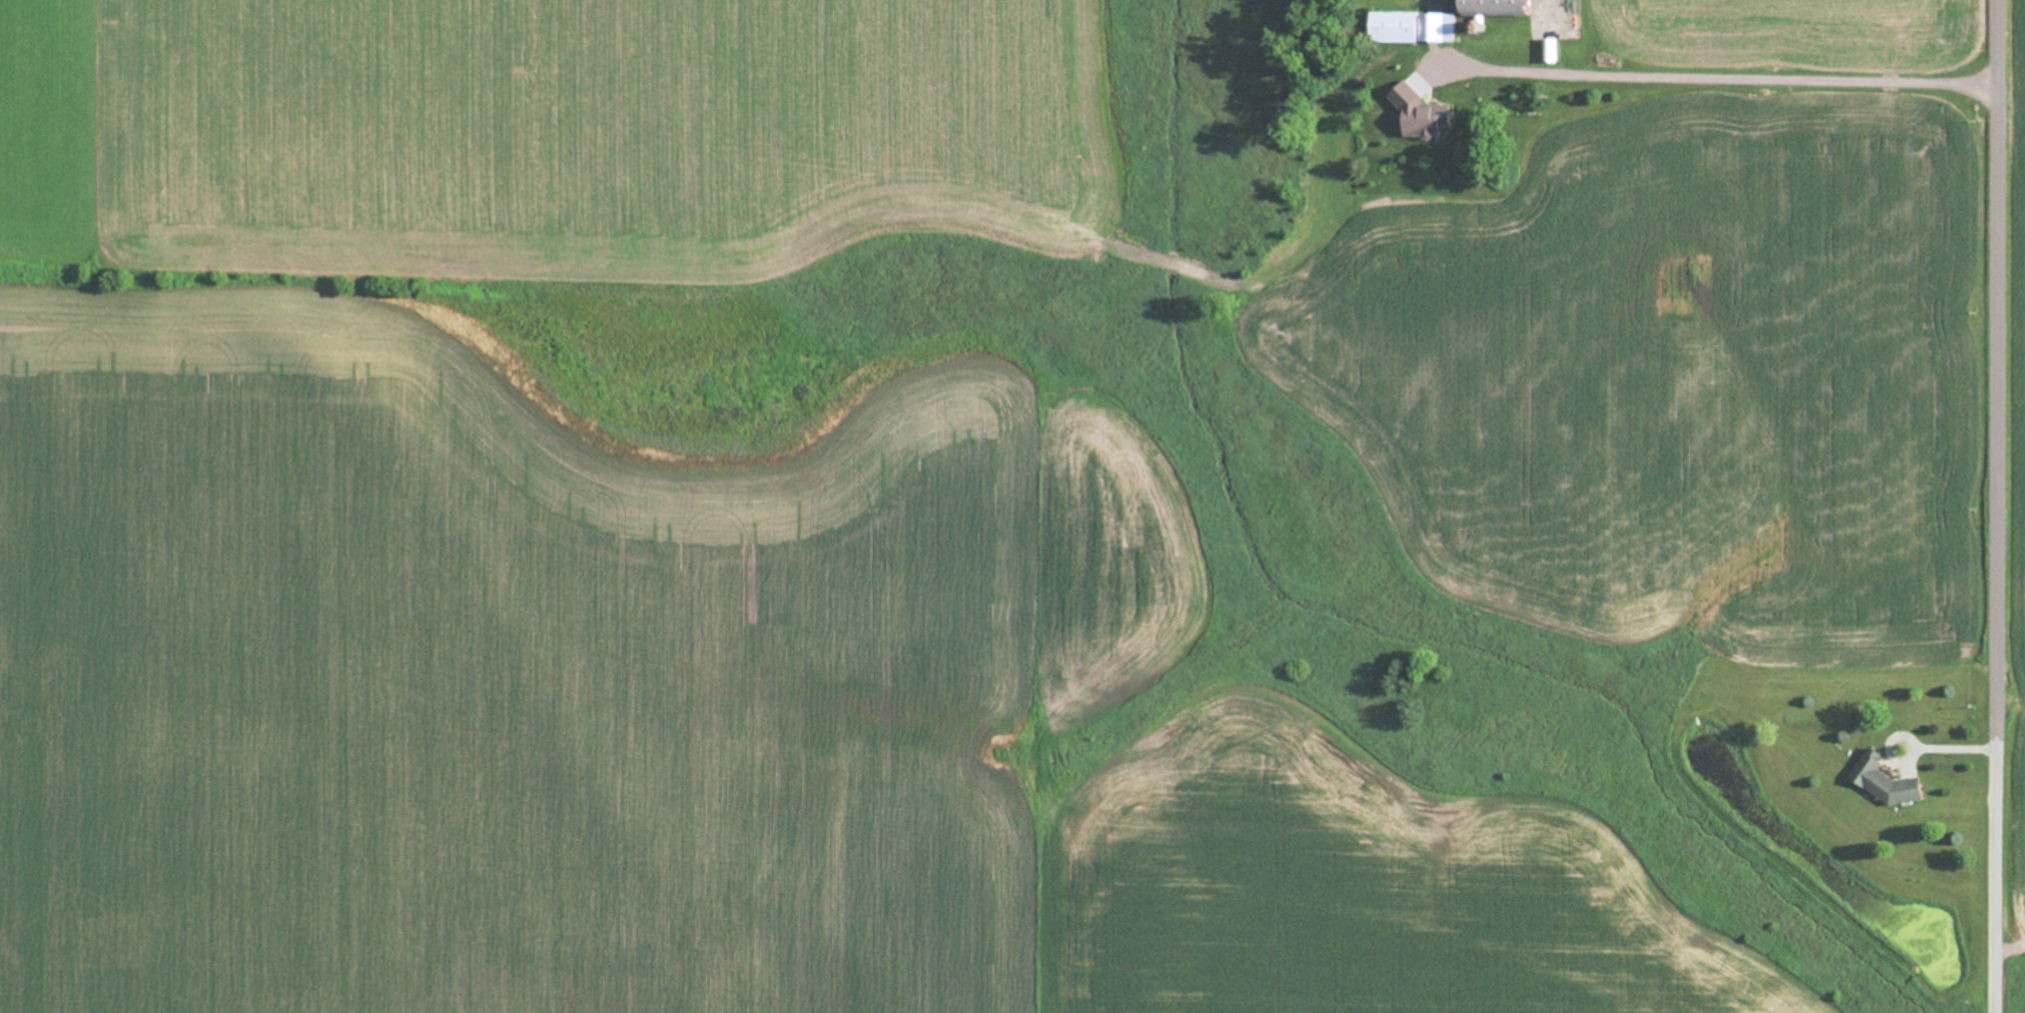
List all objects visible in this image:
building: (1494, 8)
building: (1412, 29)
road: (1475, 82)
road: (1739, 90)
road: (1969, 161)
road: (1971, 667)
building: (1884, 783)

